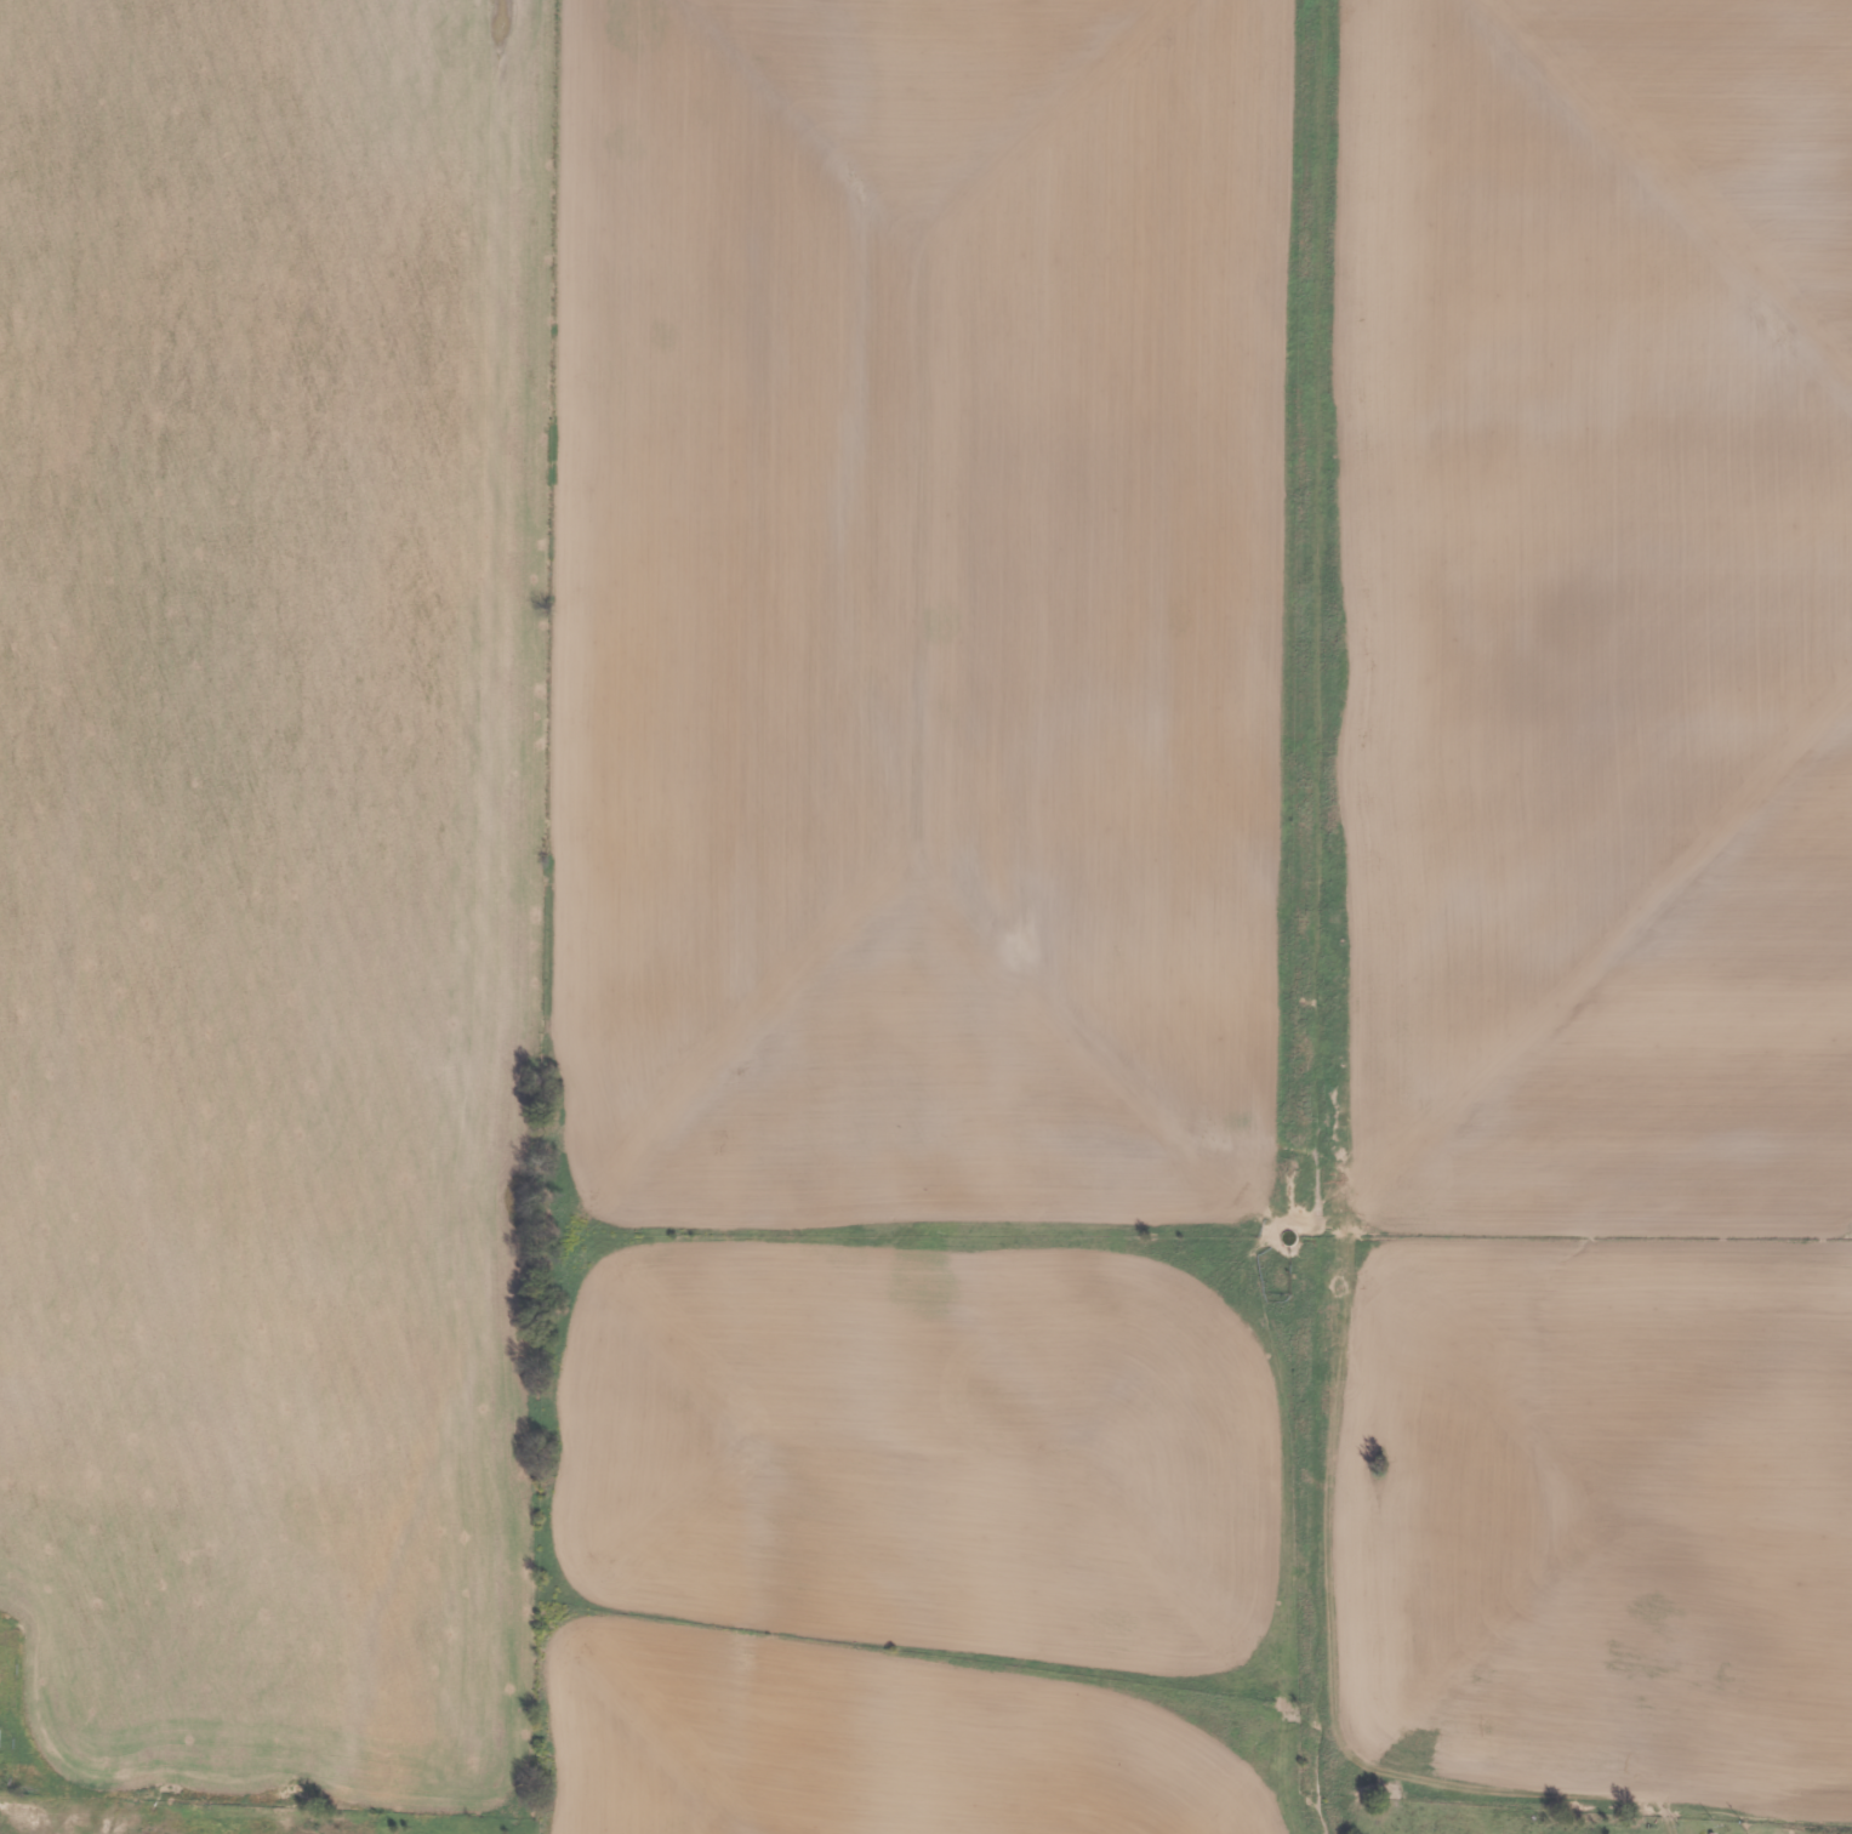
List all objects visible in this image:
building: (0, 1737)

